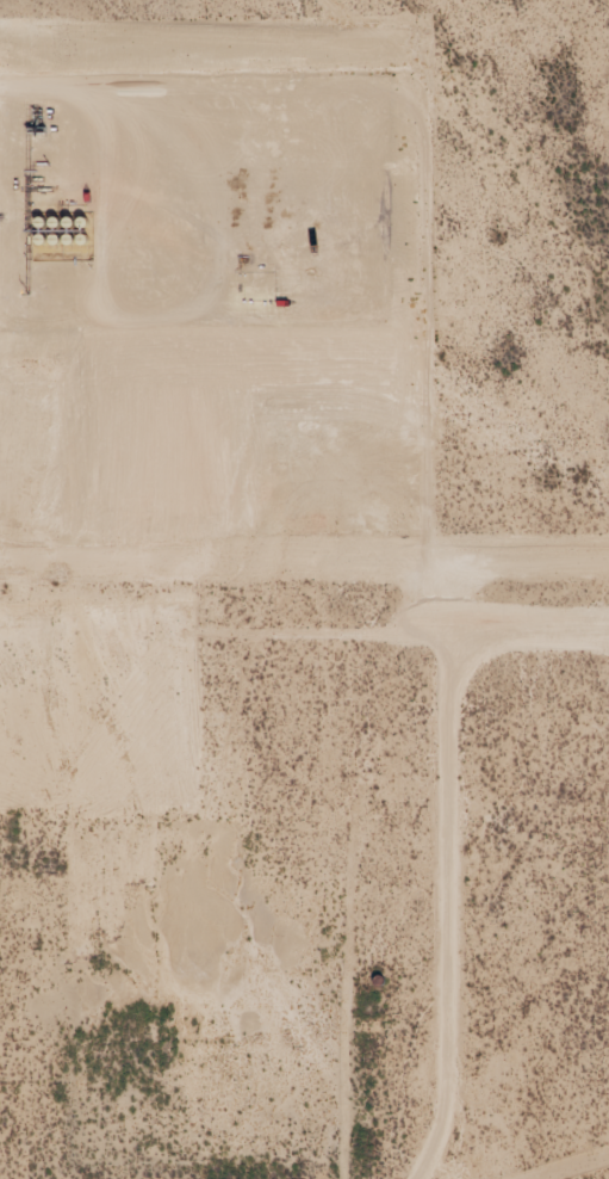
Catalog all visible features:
road: (268, 16)

